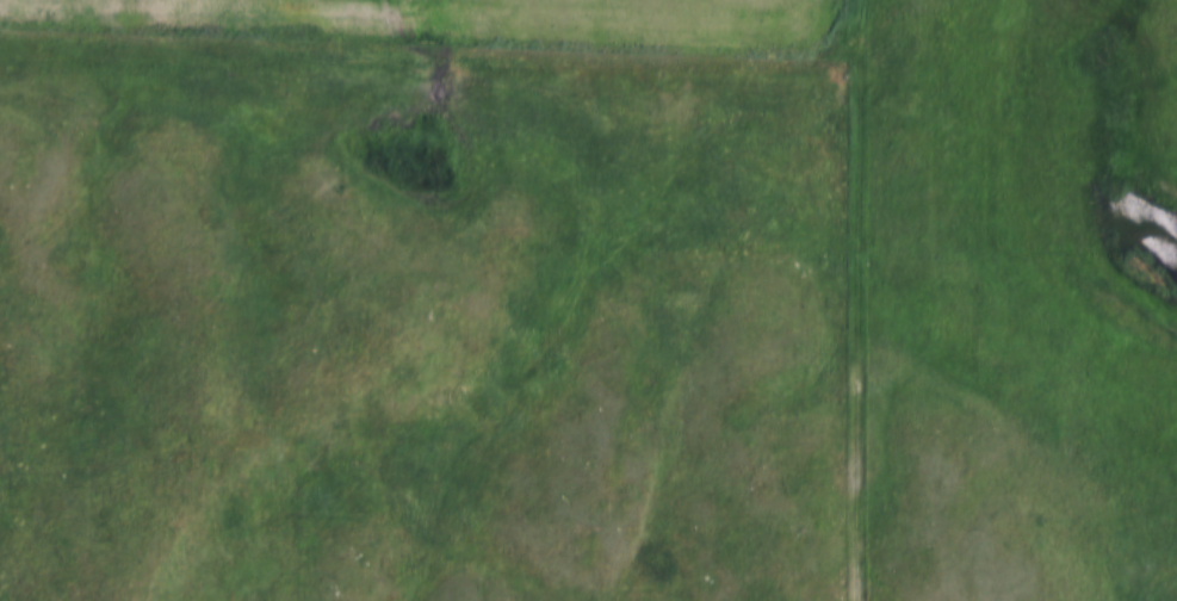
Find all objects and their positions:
road: (859, 300)

